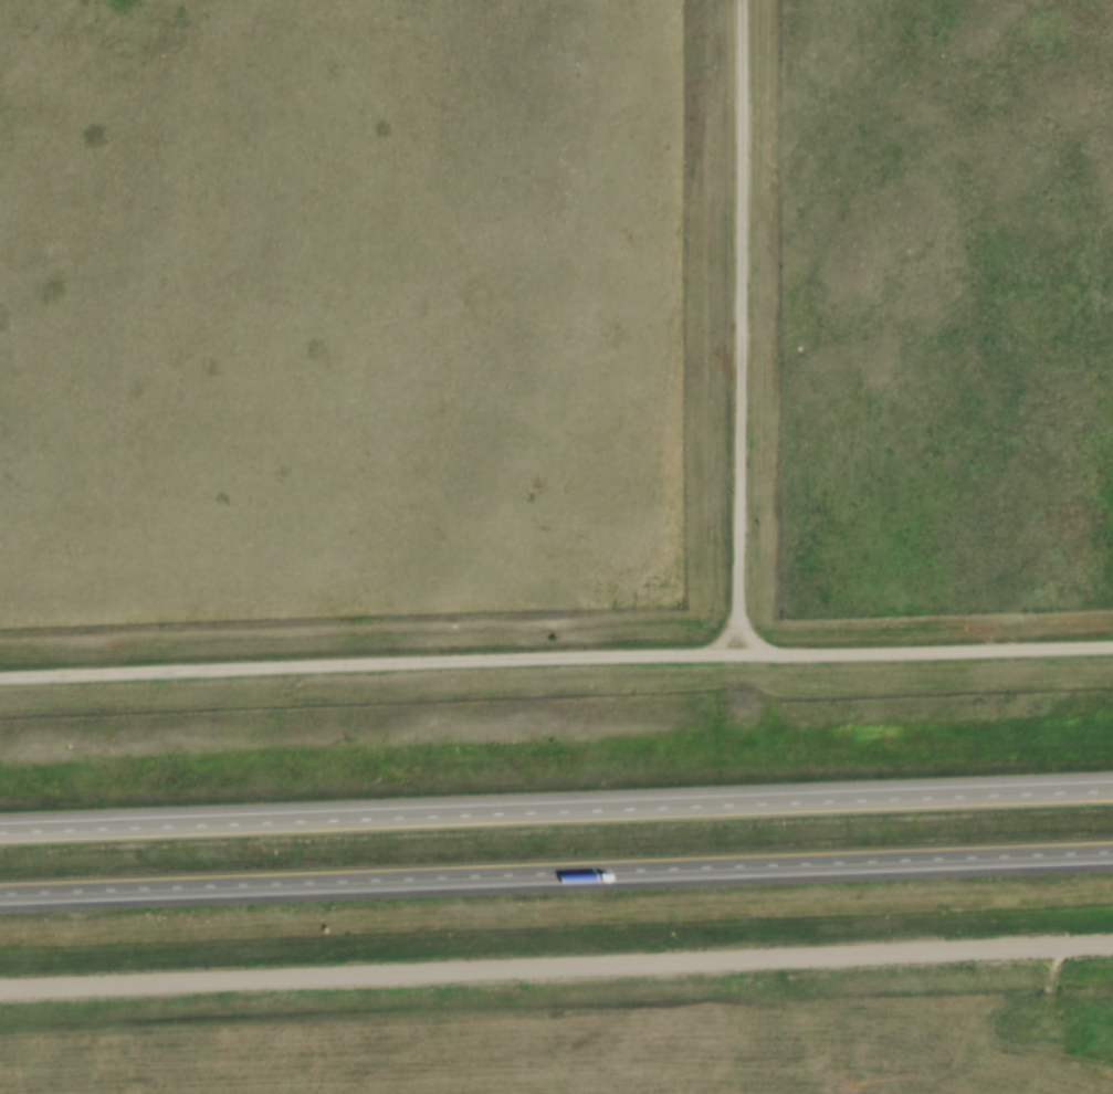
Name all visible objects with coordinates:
road: (744, 328)
road: (925, 654)
road: (368, 666)
road: (556, 813)
road: (556, 875)
road: (556, 971)

